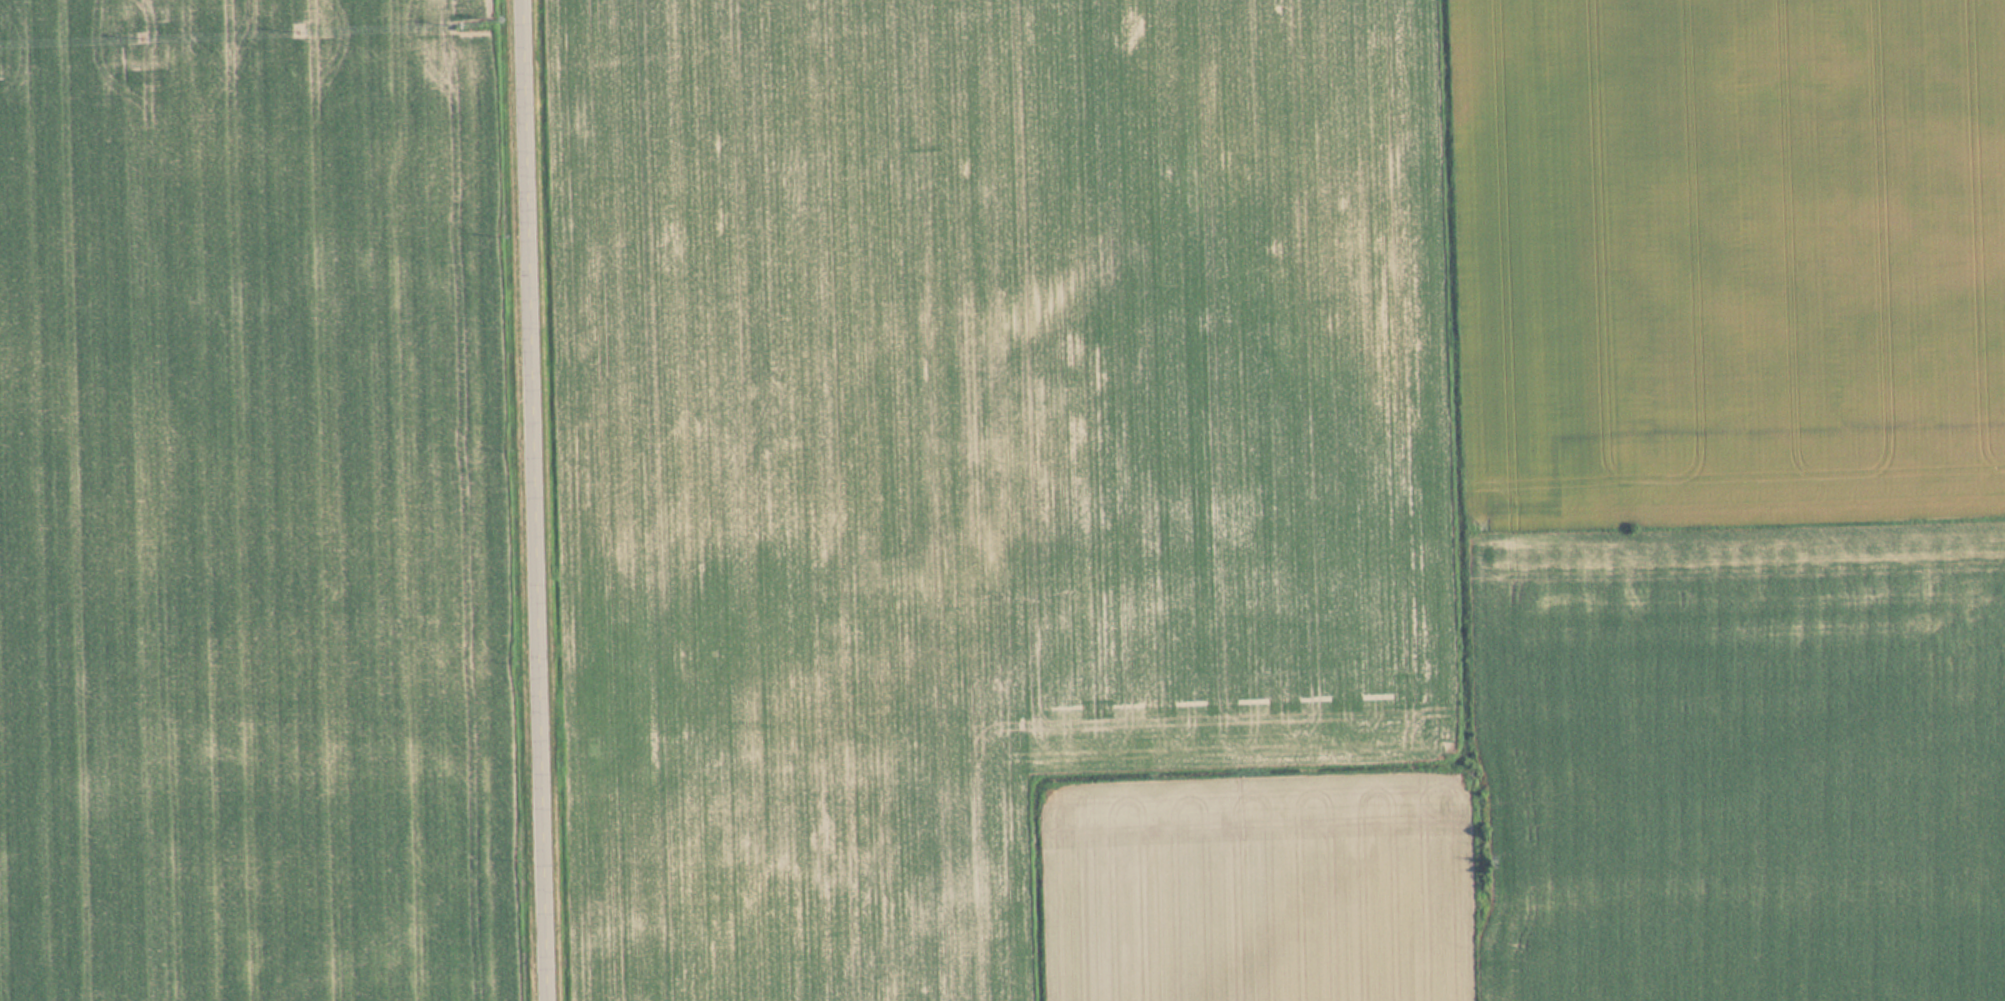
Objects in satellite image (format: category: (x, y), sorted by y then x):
road: (537, 500)

